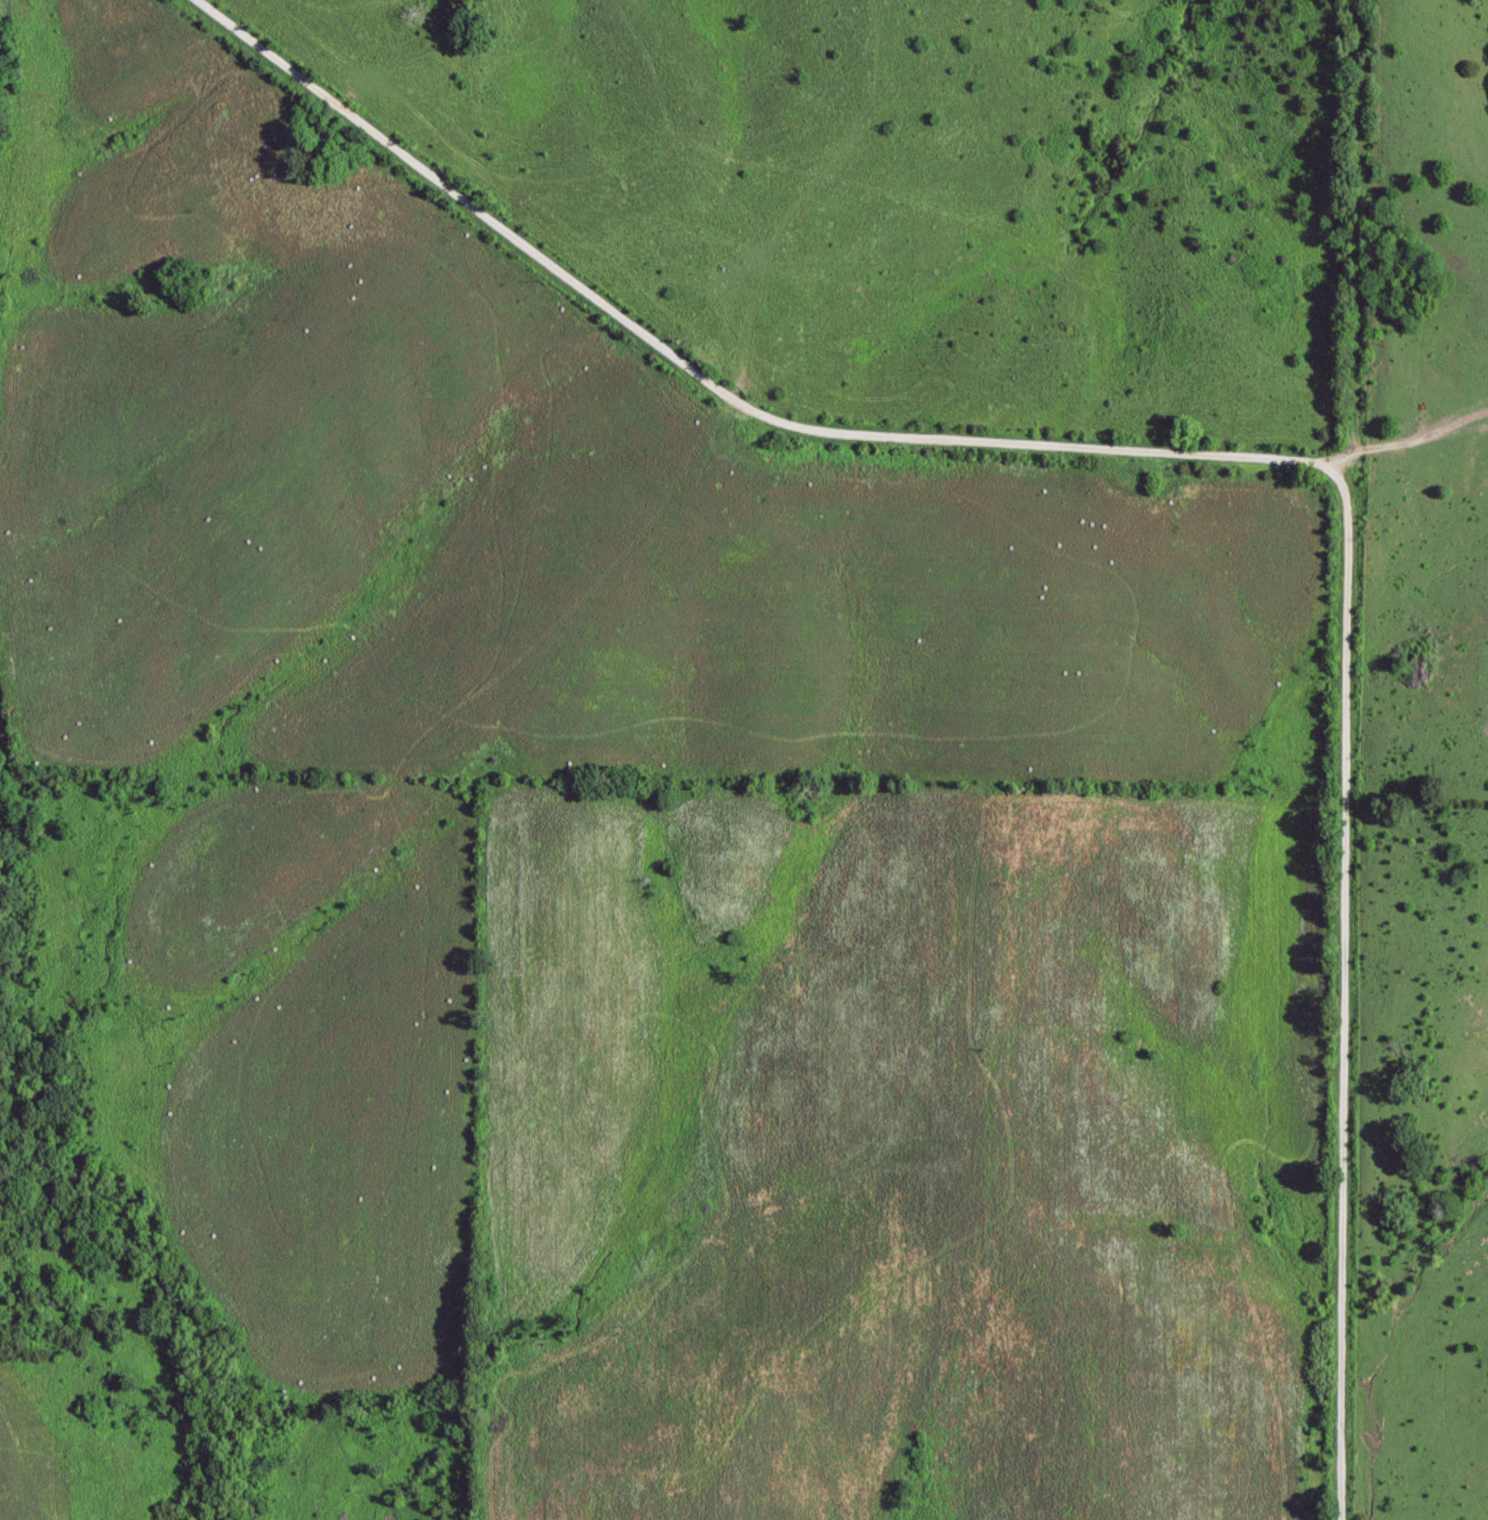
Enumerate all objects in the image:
road: (711, 380)
road: (1400, 442)
road: (1343, 992)

